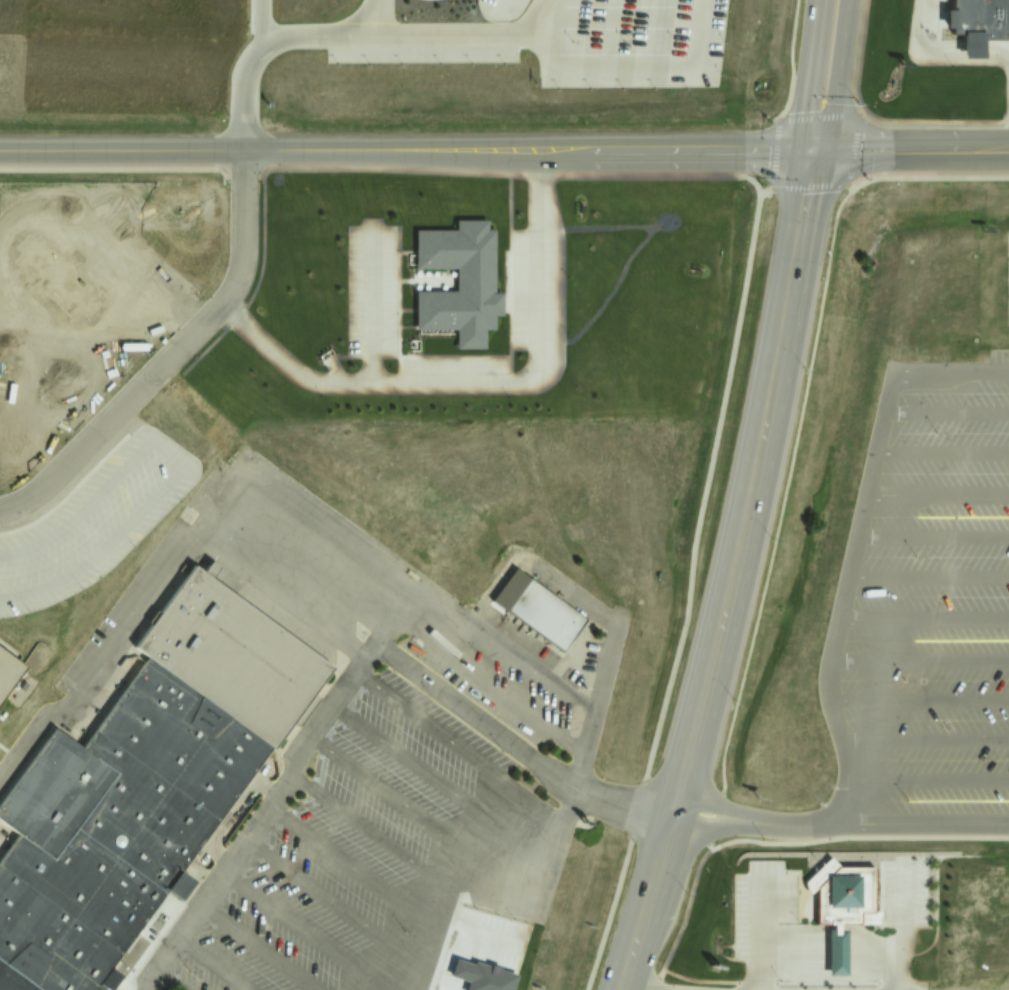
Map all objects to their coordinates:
road: (539, 17)
building: (969, 24)
road: (257, 25)
road: (340, 34)
road: (820, 74)
road: (845, 76)
road: (893, 125)
road: (411, 147)
road: (915, 149)
traffic signals: (822, 150)
road: (517, 176)
road: (847, 194)
building: (464, 283)
road: (171, 355)
road: (489, 390)
road: (947, 410)
road: (943, 451)
road: (938, 493)
parking lot: (92, 521)
road: (933, 534)
road: (856, 540)
road: (392, 566)
road: (729, 572)
road: (929, 574)
road: (690, 594)
road: (281, 596)
parking lot: (935, 603)
road: (397, 614)
road: (924, 617)
building: (547, 618)
building: (0, 641)
road: (919, 657)
building: (9, 672)
building: (112, 681)
road: (919, 697)
road: (482, 720)
road: (924, 738)
road: (928, 780)
building: (144, 790)
parking lot: (372, 849)
building: (840, 906)

